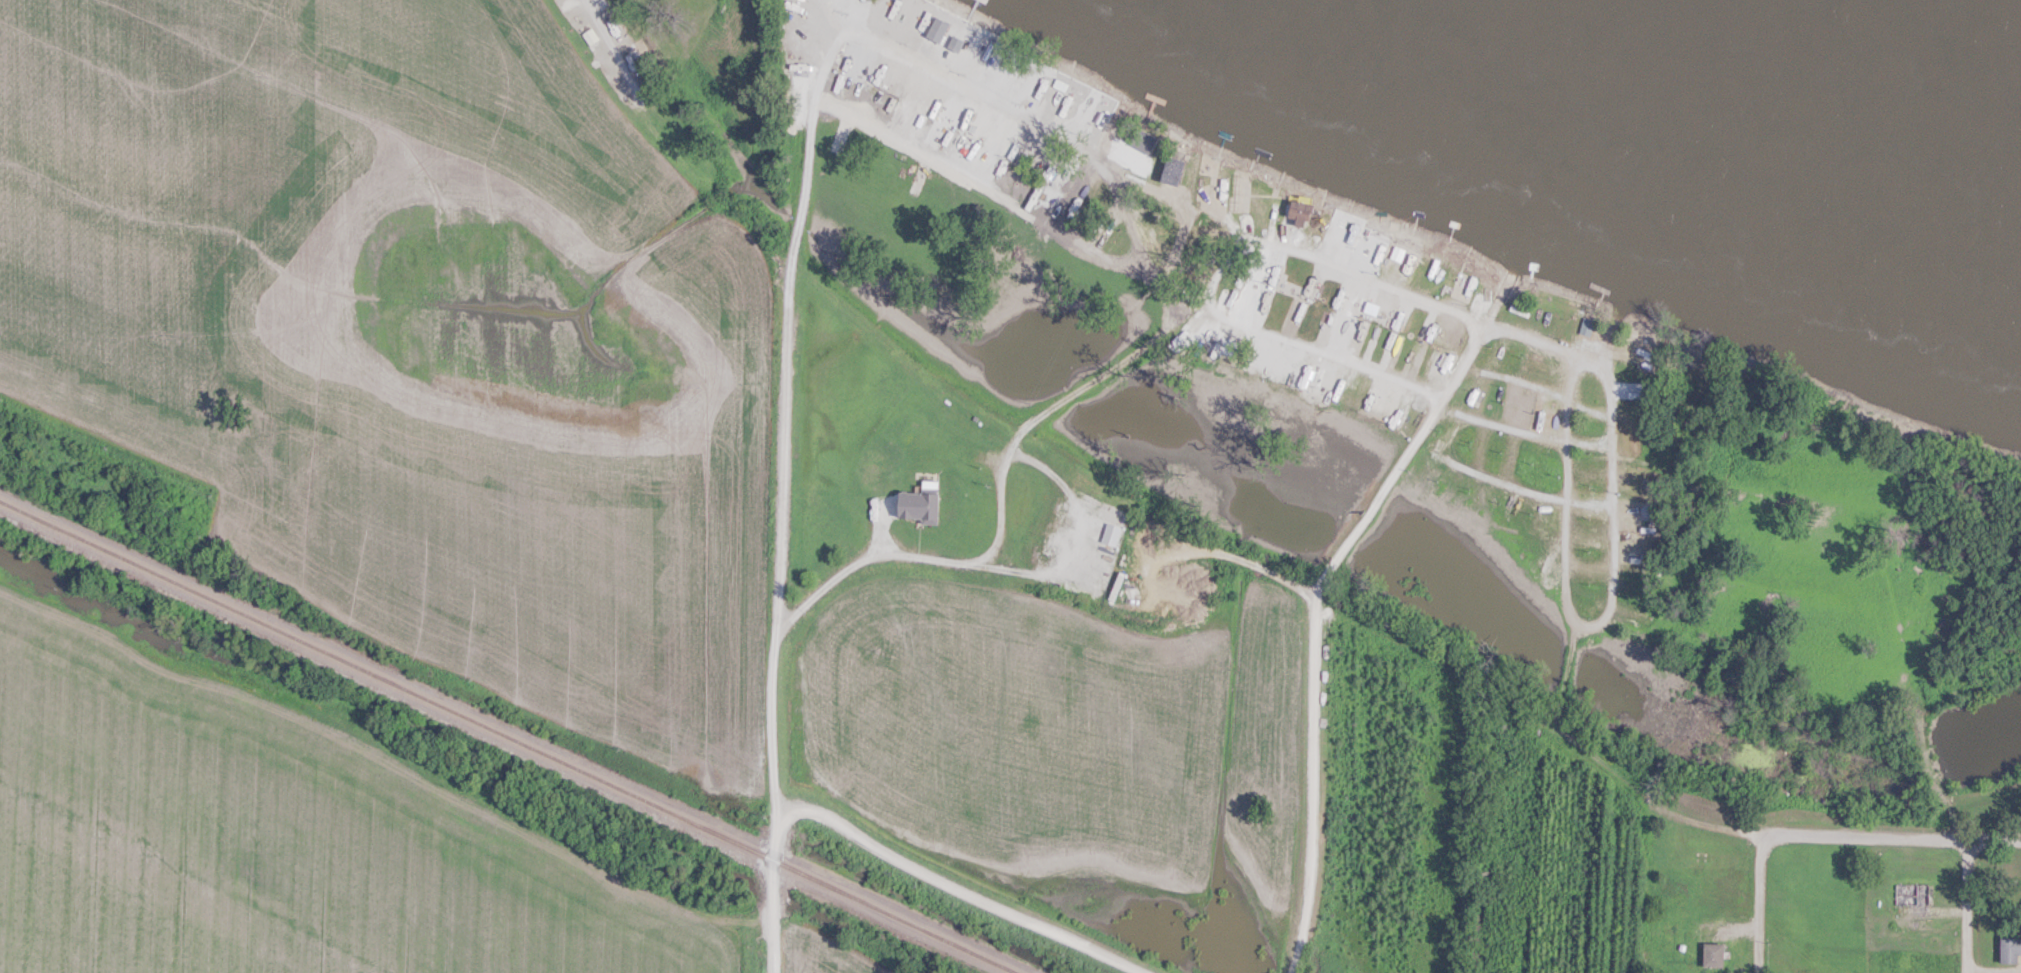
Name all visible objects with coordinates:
road: (610, 45)
road: (1044, 127)
road: (790, 326)
road: (1318, 354)
road: (1565, 398)
road: (1504, 430)
road: (1004, 452)
road: (1084, 546)
road: (1616, 597)
road: (1316, 623)
railway: (508, 736)
road: (1896, 837)
road: (956, 893)
road: (1757, 900)
road: (1966, 906)

